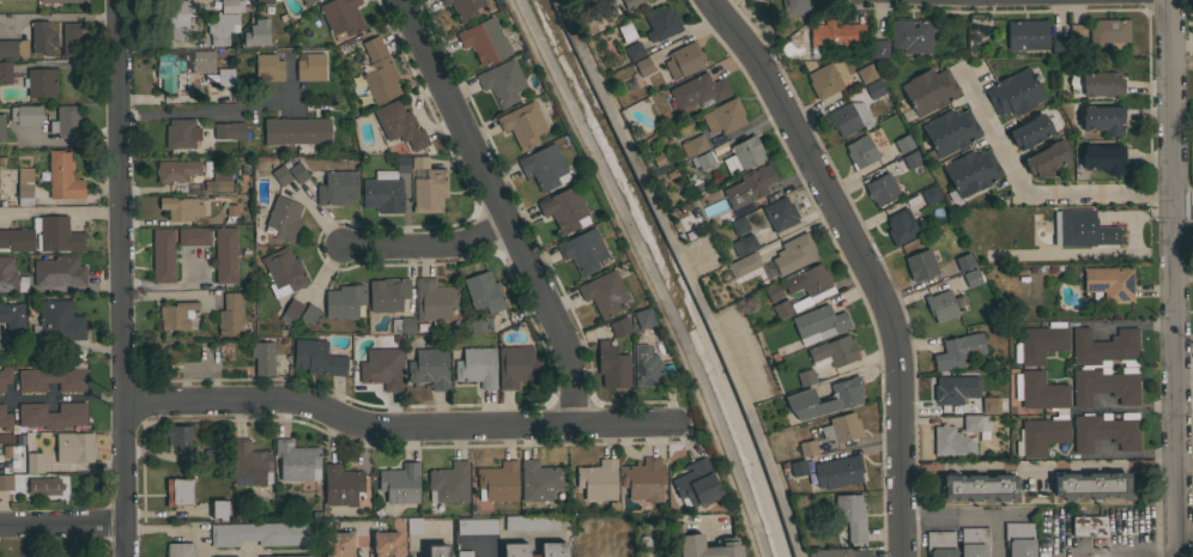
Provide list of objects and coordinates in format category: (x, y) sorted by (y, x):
building: (13, 0)
building: (62, 1)
building: (265, 1)
building: (599, 1)
building: (638, 1)
building: (305, 2)
building: (230, 6)
building: (610, 6)
building: (795, 7)
building: (462, 8)
road: (63, 16)
building: (340, 17)
building: (177, 18)
building: (661, 23)
building: (219, 29)
building: (624, 32)
building: (256, 34)
building: (1077, 34)
building: (1108, 34)
building: (910, 35)
building: (1027, 35)
building: (831, 36)
building: (42, 38)
building: (71, 40)
building: (484, 41)
building: (1058, 46)
building: (13, 48)
building: (879, 49)
building: (632, 52)
building: (683, 60)
building: (181, 66)
building: (268, 67)
building: (310, 67)
building: (642, 67)
building: (379, 71)
building: (5, 72)
building: (866, 73)
building: (225, 74)
building: (825, 77)
building: (40, 81)
building: (502, 81)
building: (1096, 83)
building: (874, 89)
building: (698, 90)
building: (928, 90)
building: (1015, 92)
road: (218, 111)
building: (25, 114)
road: (126, 114)
building: (723, 116)
building: (847, 117)
building: (1102, 119)
building: (67, 121)
building: (400, 125)
building: (522, 125)
building: (1, 127)
building: (229, 129)
building: (296, 131)
building: (950, 131)
building: (1030, 131)
building: (180, 133)
road: (71, 140)
building: (901, 144)
building: (692, 145)
building: (859, 152)
building: (741, 155)
building: (1102, 157)
building: (910, 159)
building: (1043, 159)
building: (702, 161)
building: (419, 162)
building: (543, 167)
building: (175, 171)
building: (297, 172)
building: (970, 172)
building: (280, 175)
building: (62, 176)
building: (24, 182)
building: (217, 183)
building: (749, 186)
building: (338, 187)
building: (386, 188)
road: (1029, 188)
building: (429, 189)
building: (879, 190)
building: (673, 195)
building: (928, 195)
road: (1182, 201)
road: (501, 206)
road: (61, 208)
building: (563, 208)
building: (180, 210)
building: (229, 210)
building: (780, 213)
building: (279, 220)
building: (738, 225)
building: (900, 226)
building: (1073, 228)
building: (43, 235)
building: (1104, 236)
building: (190, 237)
building: (743, 244)
road: (429, 249)
building: (582, 250)
building: (793, 253)
building: (223, 255)
building: (161, 256)
road: (860, 260)
building: (962, 262)
building: (743, 265)
building: (920, 265)
building: (59, 271)
building: (283, 271)
building: (7, 273)
road: (640, 273)
road: (121, 278)
road: (1174, 278)
building: (813, 279)
building: (970, 279)
building: (1109, 281)
road: (172, 284)
building: (484, 291)
building: (773, 291)
building: (602, 292)
building: (388, 293)
building: (434, 298)
building: (345, 301)
building: (940, 305)
building: (781, 308)
building: (290, 311)
building: (176, 314)
building: (308, 314)
building: (229, 315)
building: (12, 317)
building: (643, 317)
building: (57, 321)
road: (1122, 322)
building: (479, 323)
building: (818, 323)
building: (402, 325)
building: (619, 326)
building: (1038, 343)
road: (61, 346)
building: (1104, 347)
building: (834, 350)
building: (958, 350)
building: (262, 357)
building: (316, 357)
building: (476, 365)
building: (515, 365)
building: (611, 367)
building: (382, 368)
building: (429, 368)
building: (644, 368)
building: (5, 376)
building: (805, 376)
building: (52, 379)
building: (1104, 385)
building: (947, 390)
building: (1040, 390)
road: (61, 395)
building: (843, 399)
building: (989, 404)
road: (1122, 406)
building: (52, 414)
building: (5, 418)
building: (974, 423)
road: (395, 428)
building: (841, 428)
building: (1106, 430)
building: (1041, 435)
building: (178, 436)
building: (951, 441)
building: (74, 447)
building: (806, 448)
building: (208, 455)
building: (297, 460)
road: (1185, 460)
building: (35, 462)
building: (248, 462)
road: (1038, 464)
building: (797, 467)
building: (837, 471)
building: (598, 479)
building: (643, 479)
building: (539, 480)
building: (5, 482)
building: (497, 482)
building: (400, 483)
building: (449, 483)
building: (695, 483)
building: (44, 485)
building: (341, 485)
building: (1091, 485)
building: (977, 486)
building: (178, 491)
building: (219, 510)
road: (968, 514)
building: (849, 517)
building: (531, 522)
building: (413, 525)
building: (476, 526)
building: (1086, 526)
road: (62, 531)
road: (1186, 532)
building: (260, 533)
building: (689, 537)
building: (1016, 539)
building: (971, 541)
road: (199, 543)
road: (363, 543)
building: (938, 543)
building: (339, 544)
building: (386, 544)
building: (552, 547)
building: (180, 550)
building: (437, 550)
road: (489, 550)
building: (464, 553)
building: (837, 553)
building: (54, 556)
building: (74, 556)
building: (229, 556)
building: (286, 556)

